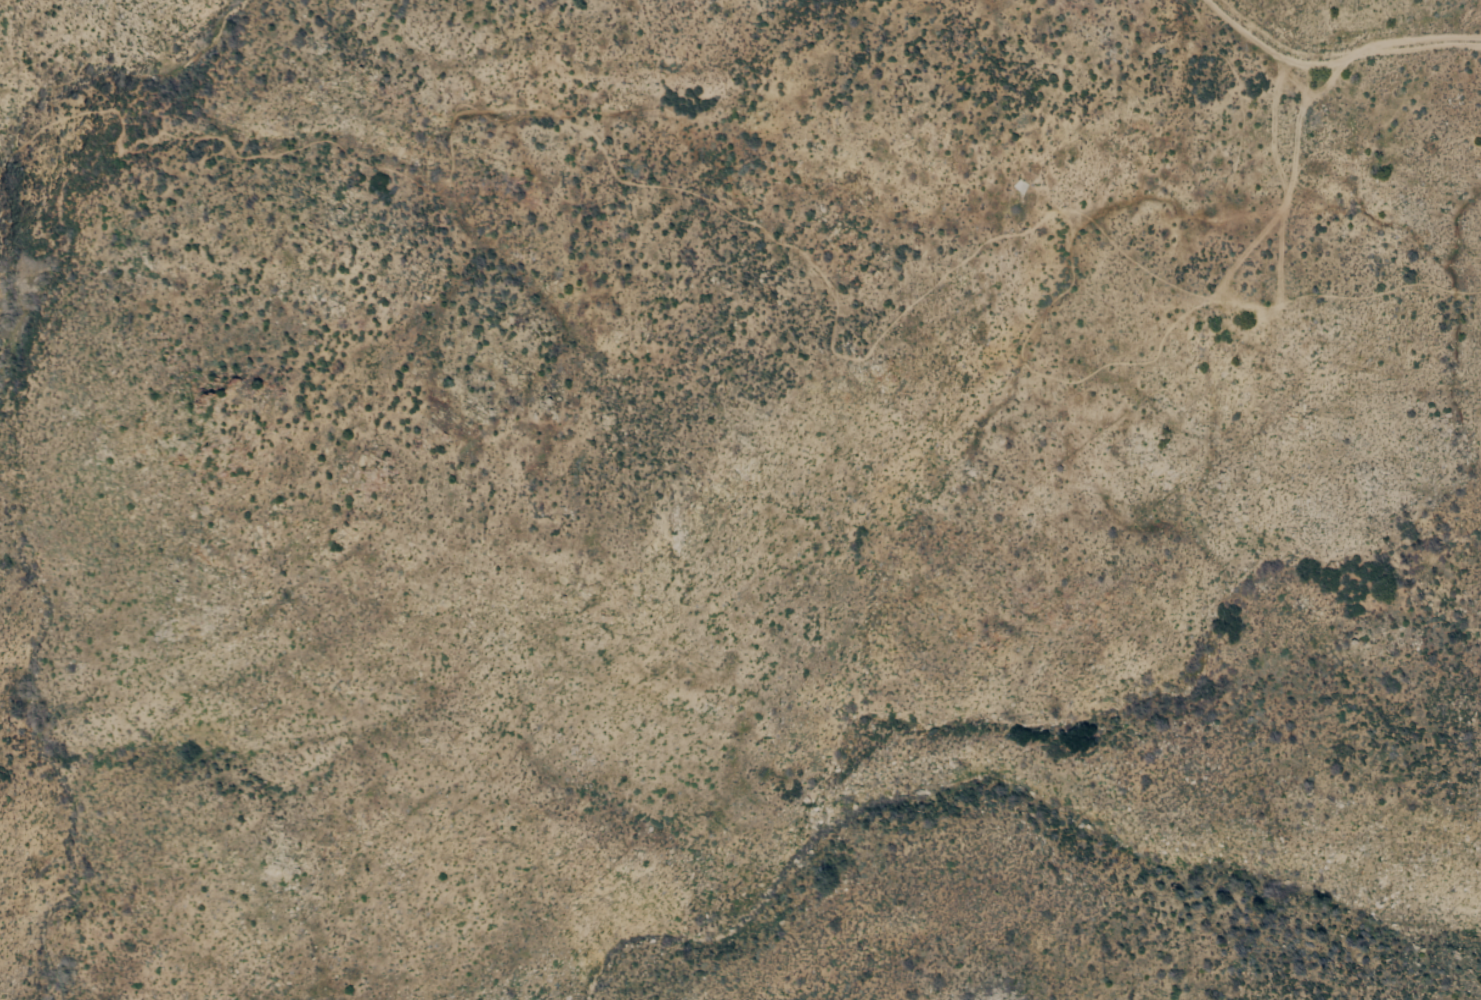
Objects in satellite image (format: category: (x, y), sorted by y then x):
road: (1335, 62)

